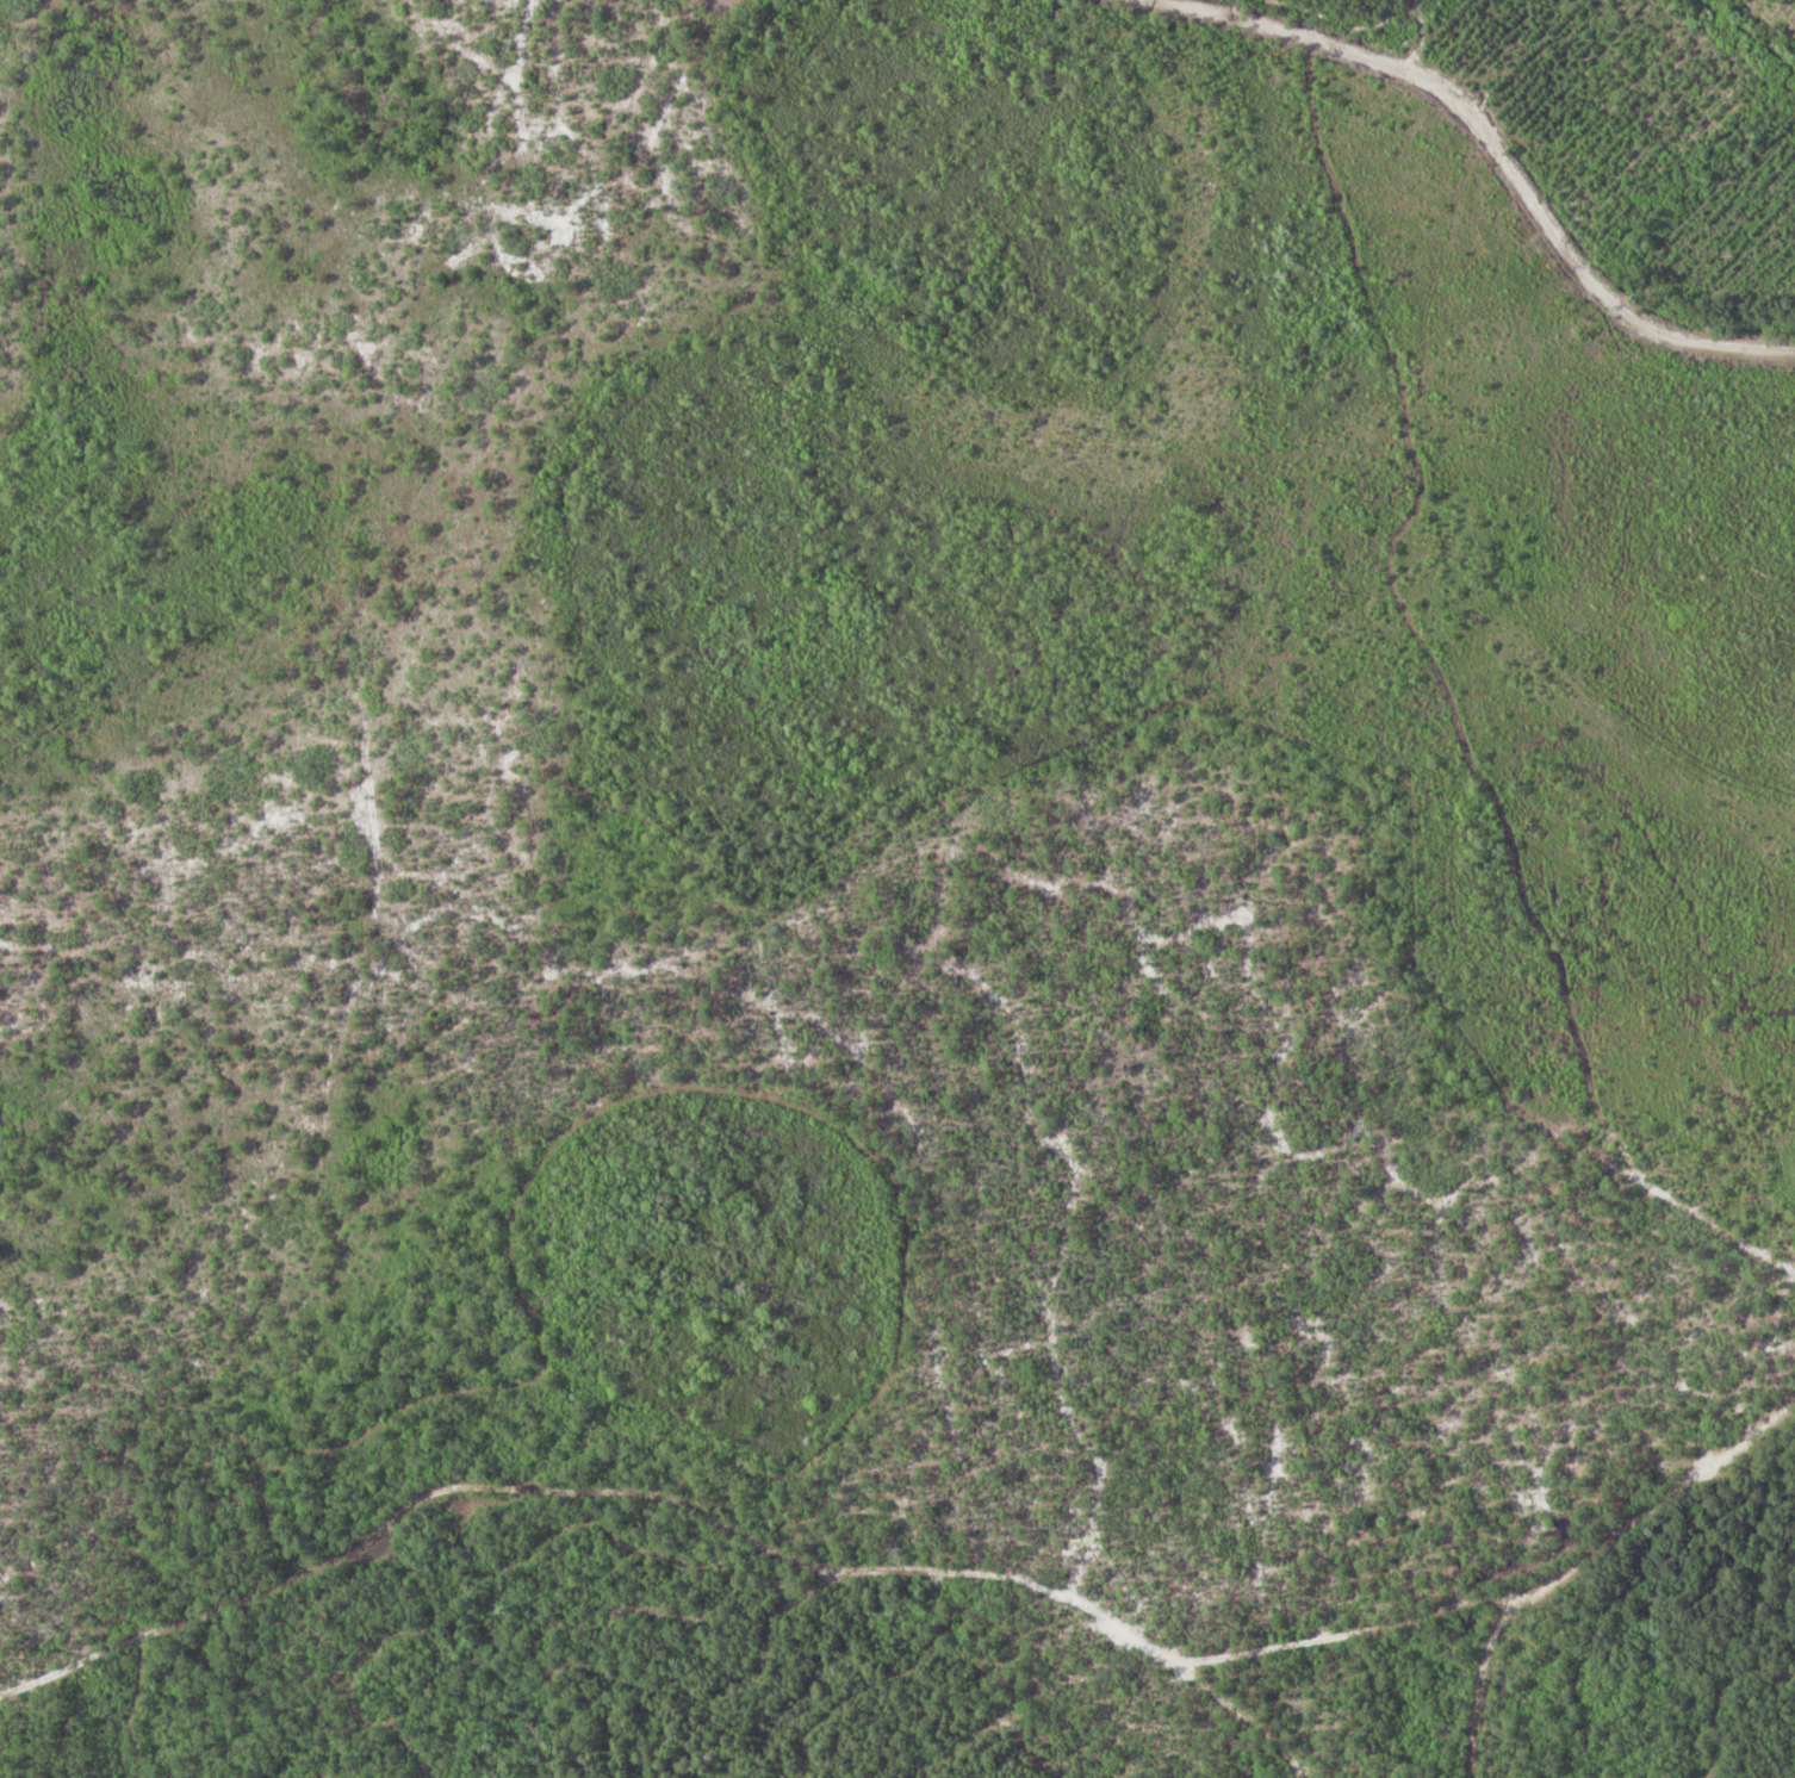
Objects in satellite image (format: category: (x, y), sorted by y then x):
road: (1495, 153)
road: (750, 1531)
road: (1588, 1575)

